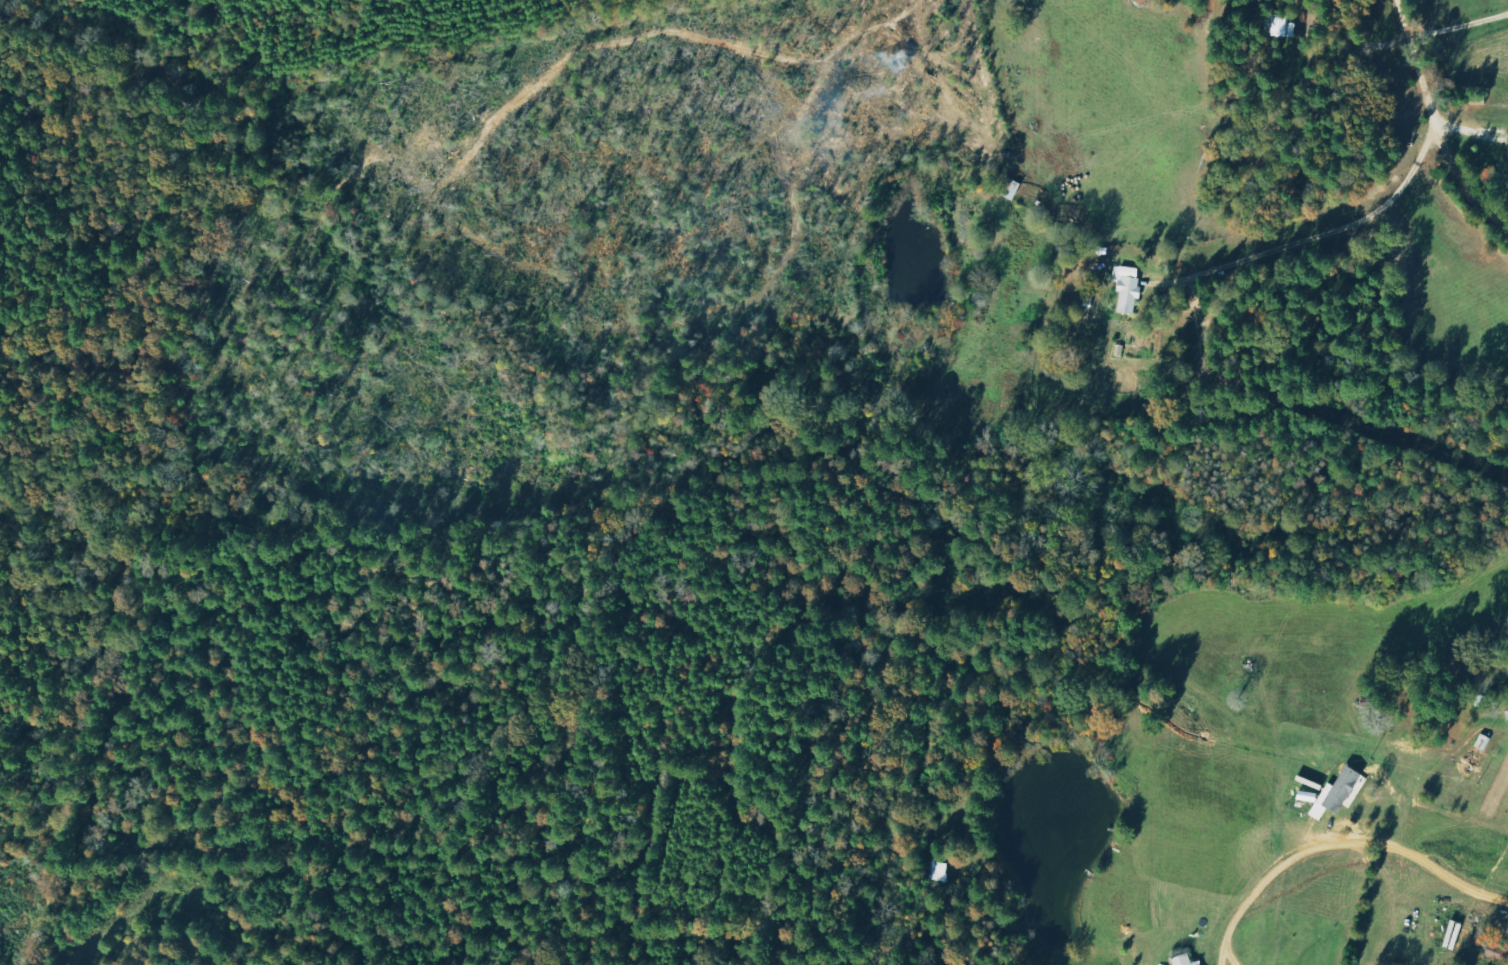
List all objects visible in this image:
building: (1287, 29)
road: (1442, 108)
building: (1139, 290)
building: (1507, 713)
building: (1339, 794)
building: (1186, 960)

